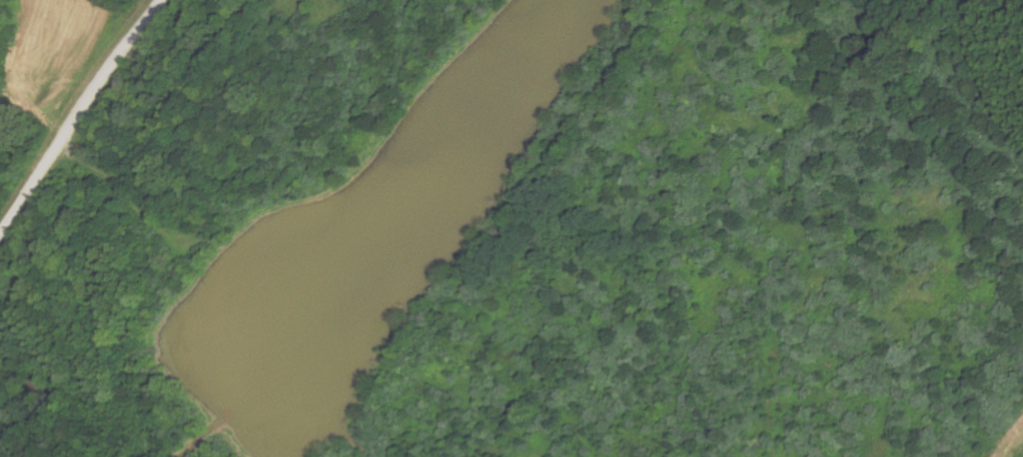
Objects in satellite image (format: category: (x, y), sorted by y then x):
road: (80, 119)

